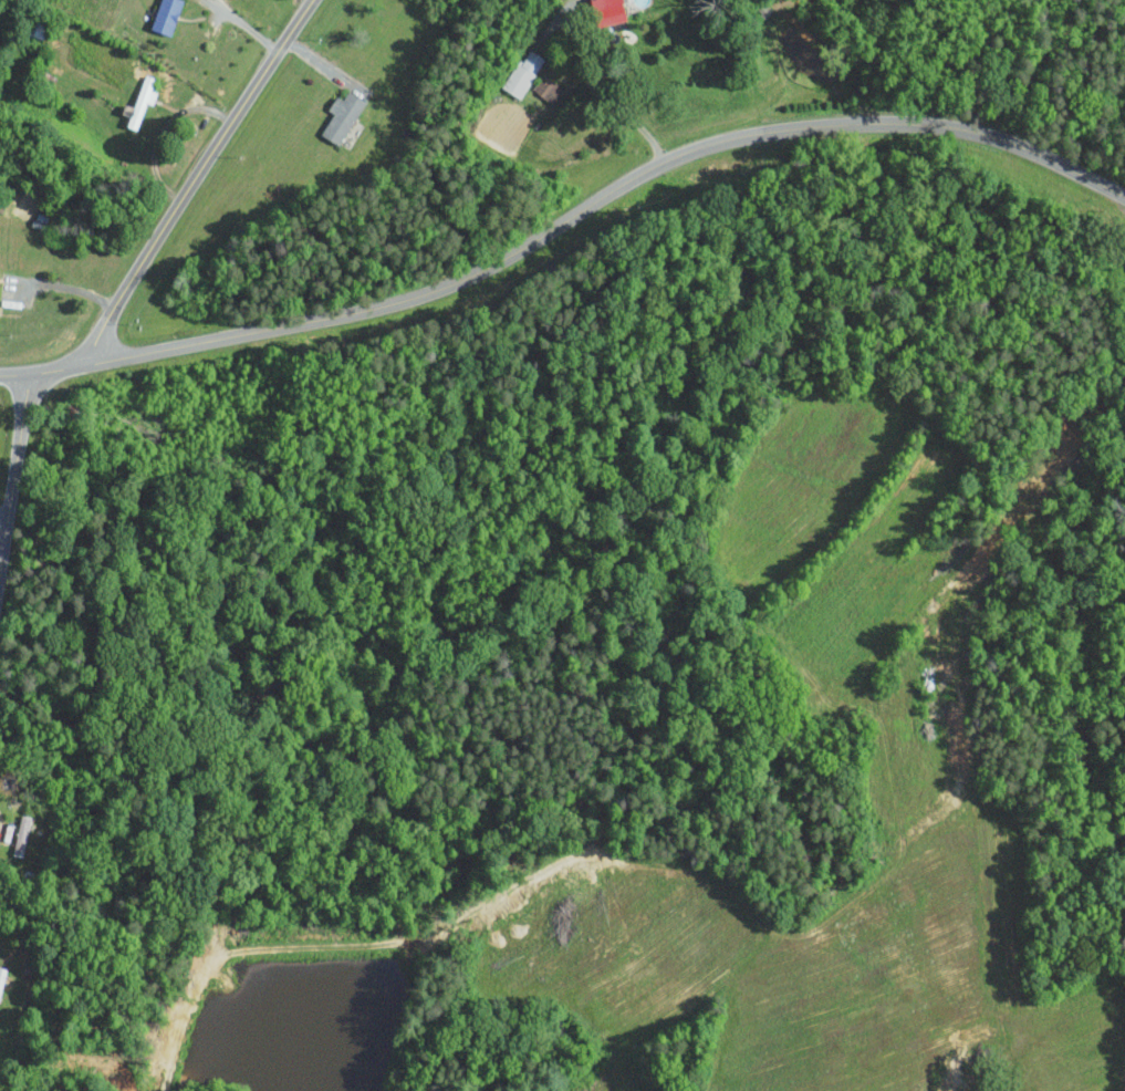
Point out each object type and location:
building: (606, 11)
building: (165, 15)
road: (246, 24)
road: (569, 66)
building: (522, 73)
building: (550, 91)
building: (341, 116)
road: (160, 129)
road: (195, 178)
road: (566, 218)
road: (67, 288)
road: (14, 467)
road: (1, 530)

